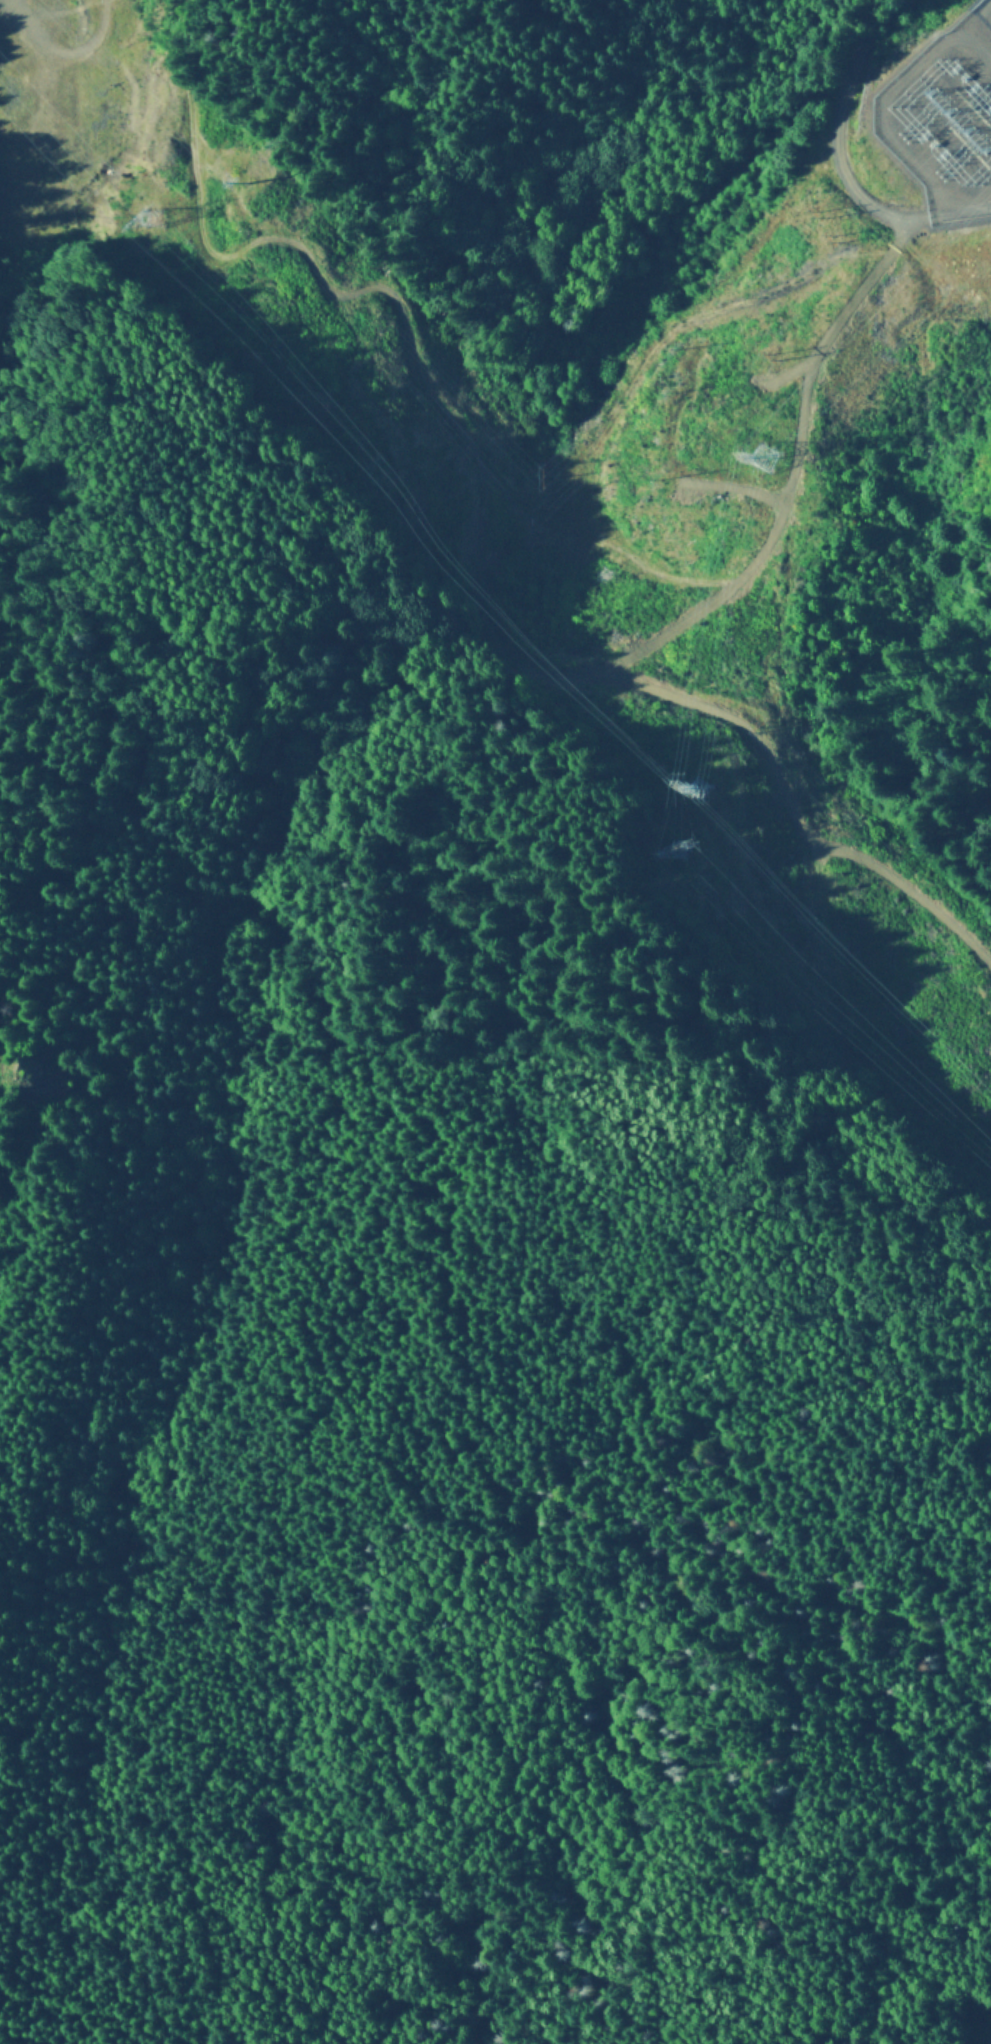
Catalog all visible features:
power substation: (944, 119)
power tower: (253, 186)
power tower: (154, 217)
power tower: (768, 463)
power tower: (768, 726)
power tower: (704, 793)
power tower: (690, 852)

